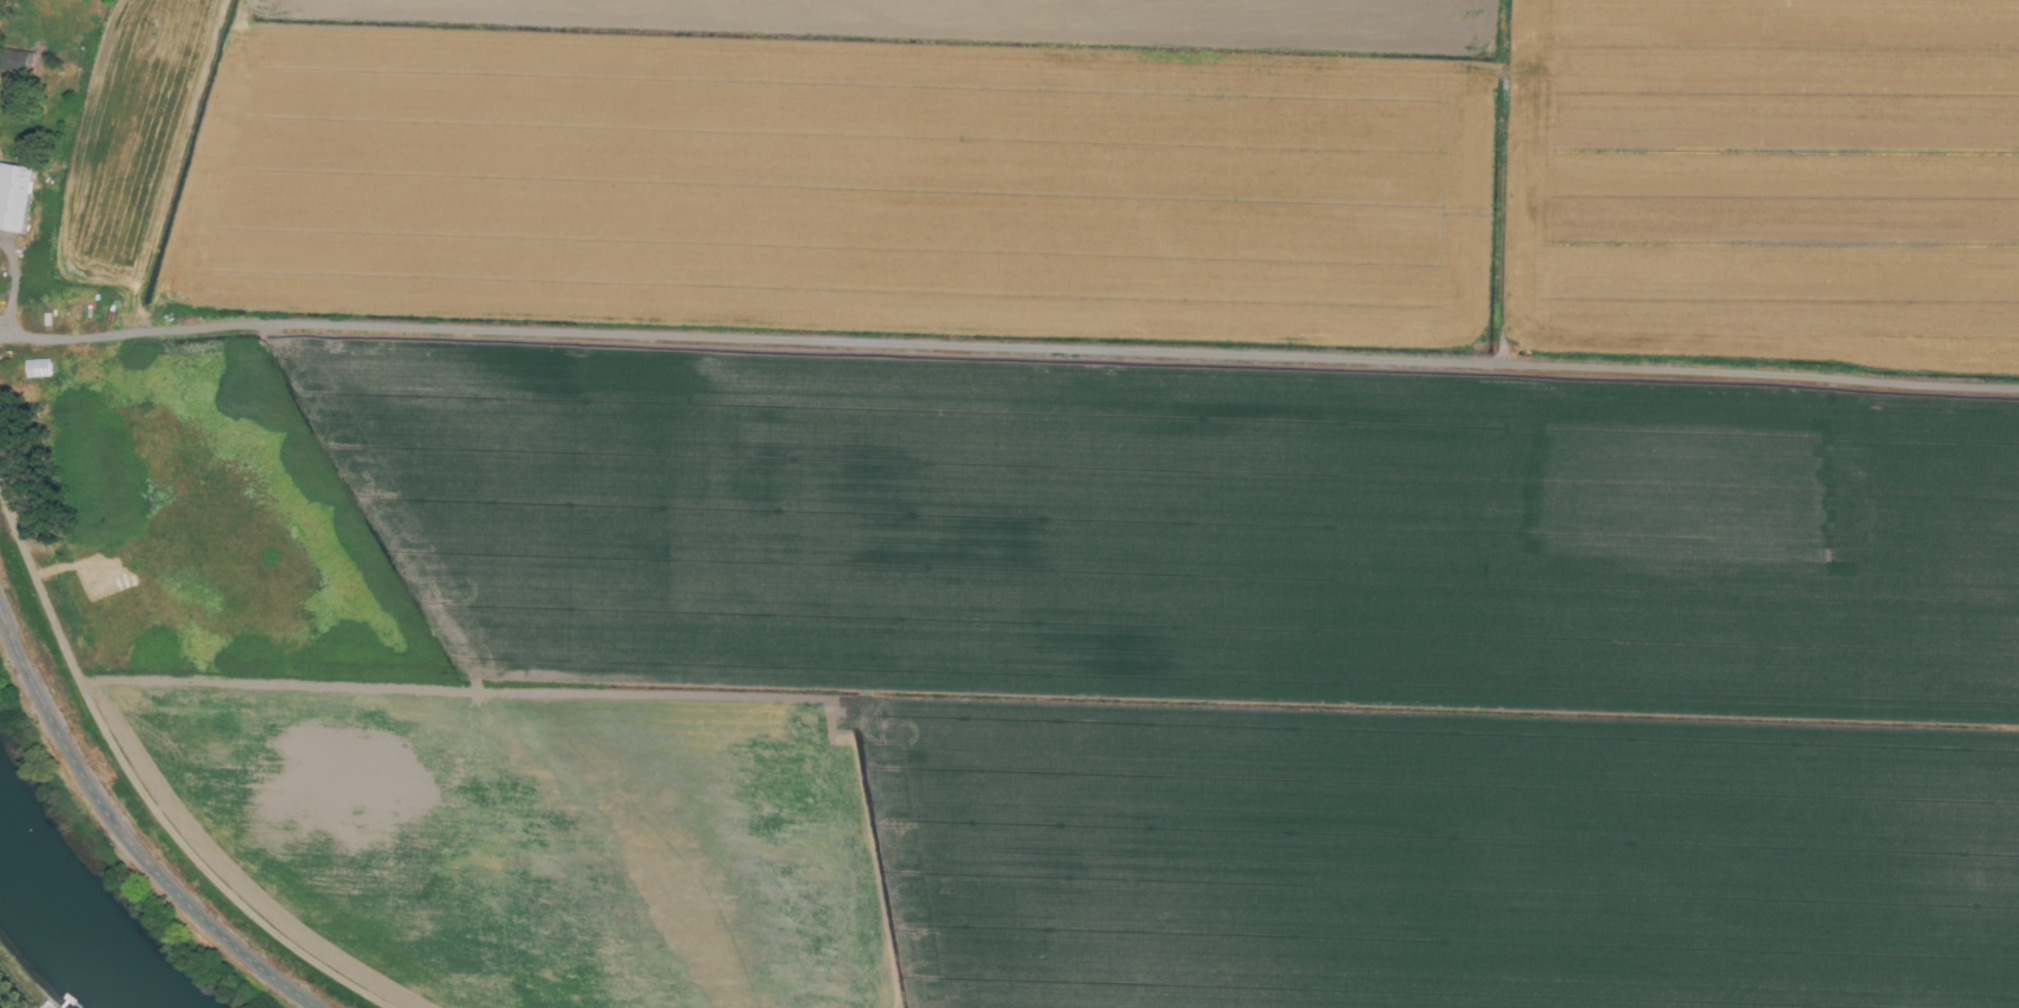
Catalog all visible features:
building: (13, 197)
road: (1007, 347)
crop: (1038, 492)
road: (126, 834)
building: (43, 1005)

